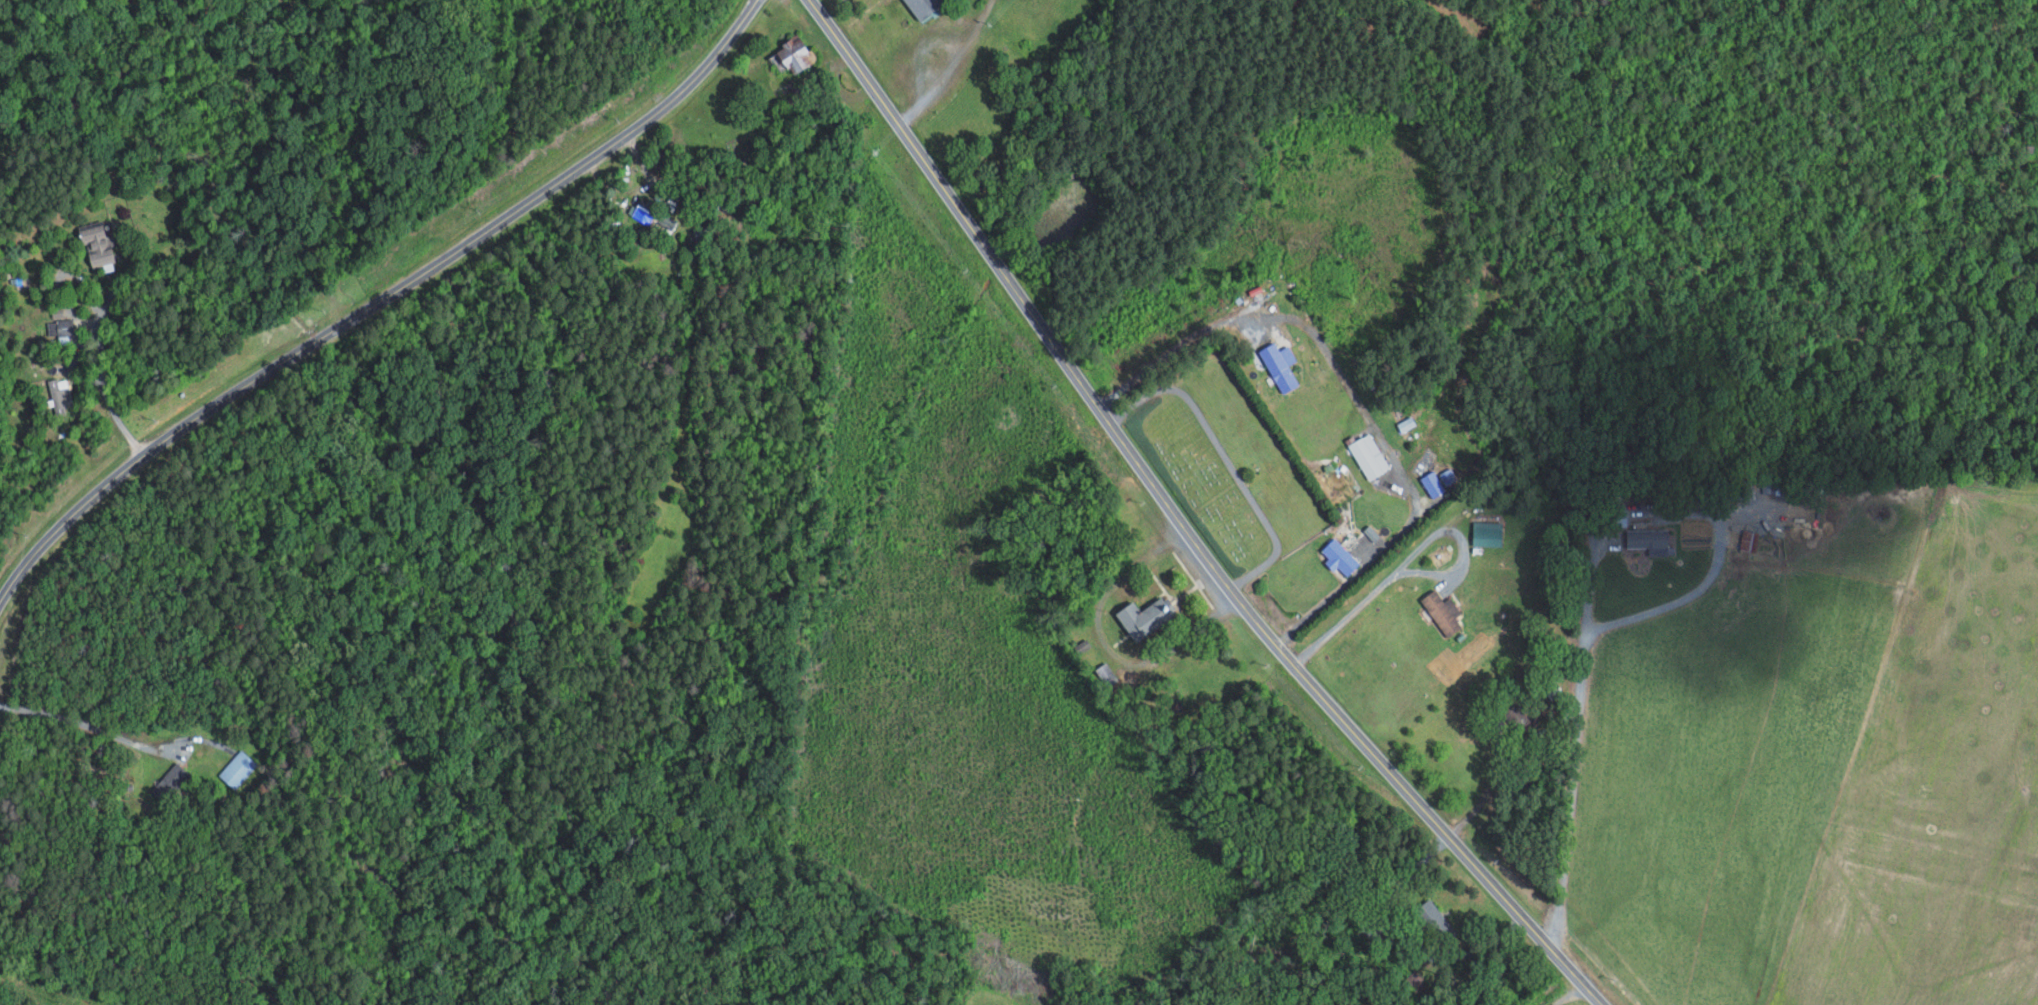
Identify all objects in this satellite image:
building: (926, 7)
building: (794, 56)
road: (950, 66)
building: (101, 246)
road: (376, 300)
road: (1269, 316)
building: (62, 327)
road: (101, 358)
building: (1281, 365)
building: (60, 395)
building: (1368, 454)
building: (1448, 476)
building: (1434, 483)
road: (1182, 516)
building: (1372, 532)
building: (1488, 533)
building: (1649, 537)
building: (1750, 539)
building: (1340, 556)
road: (1408, 557)
road: (1369, 563)
building: (1445, 611)
road: (1643, 613)
building: (1148, 616)
road: (89, 726)
building: (238, 768)
building: (171, 781)
road: (1487, 786)
road: (1556, 995)
road: (1571, 999)

